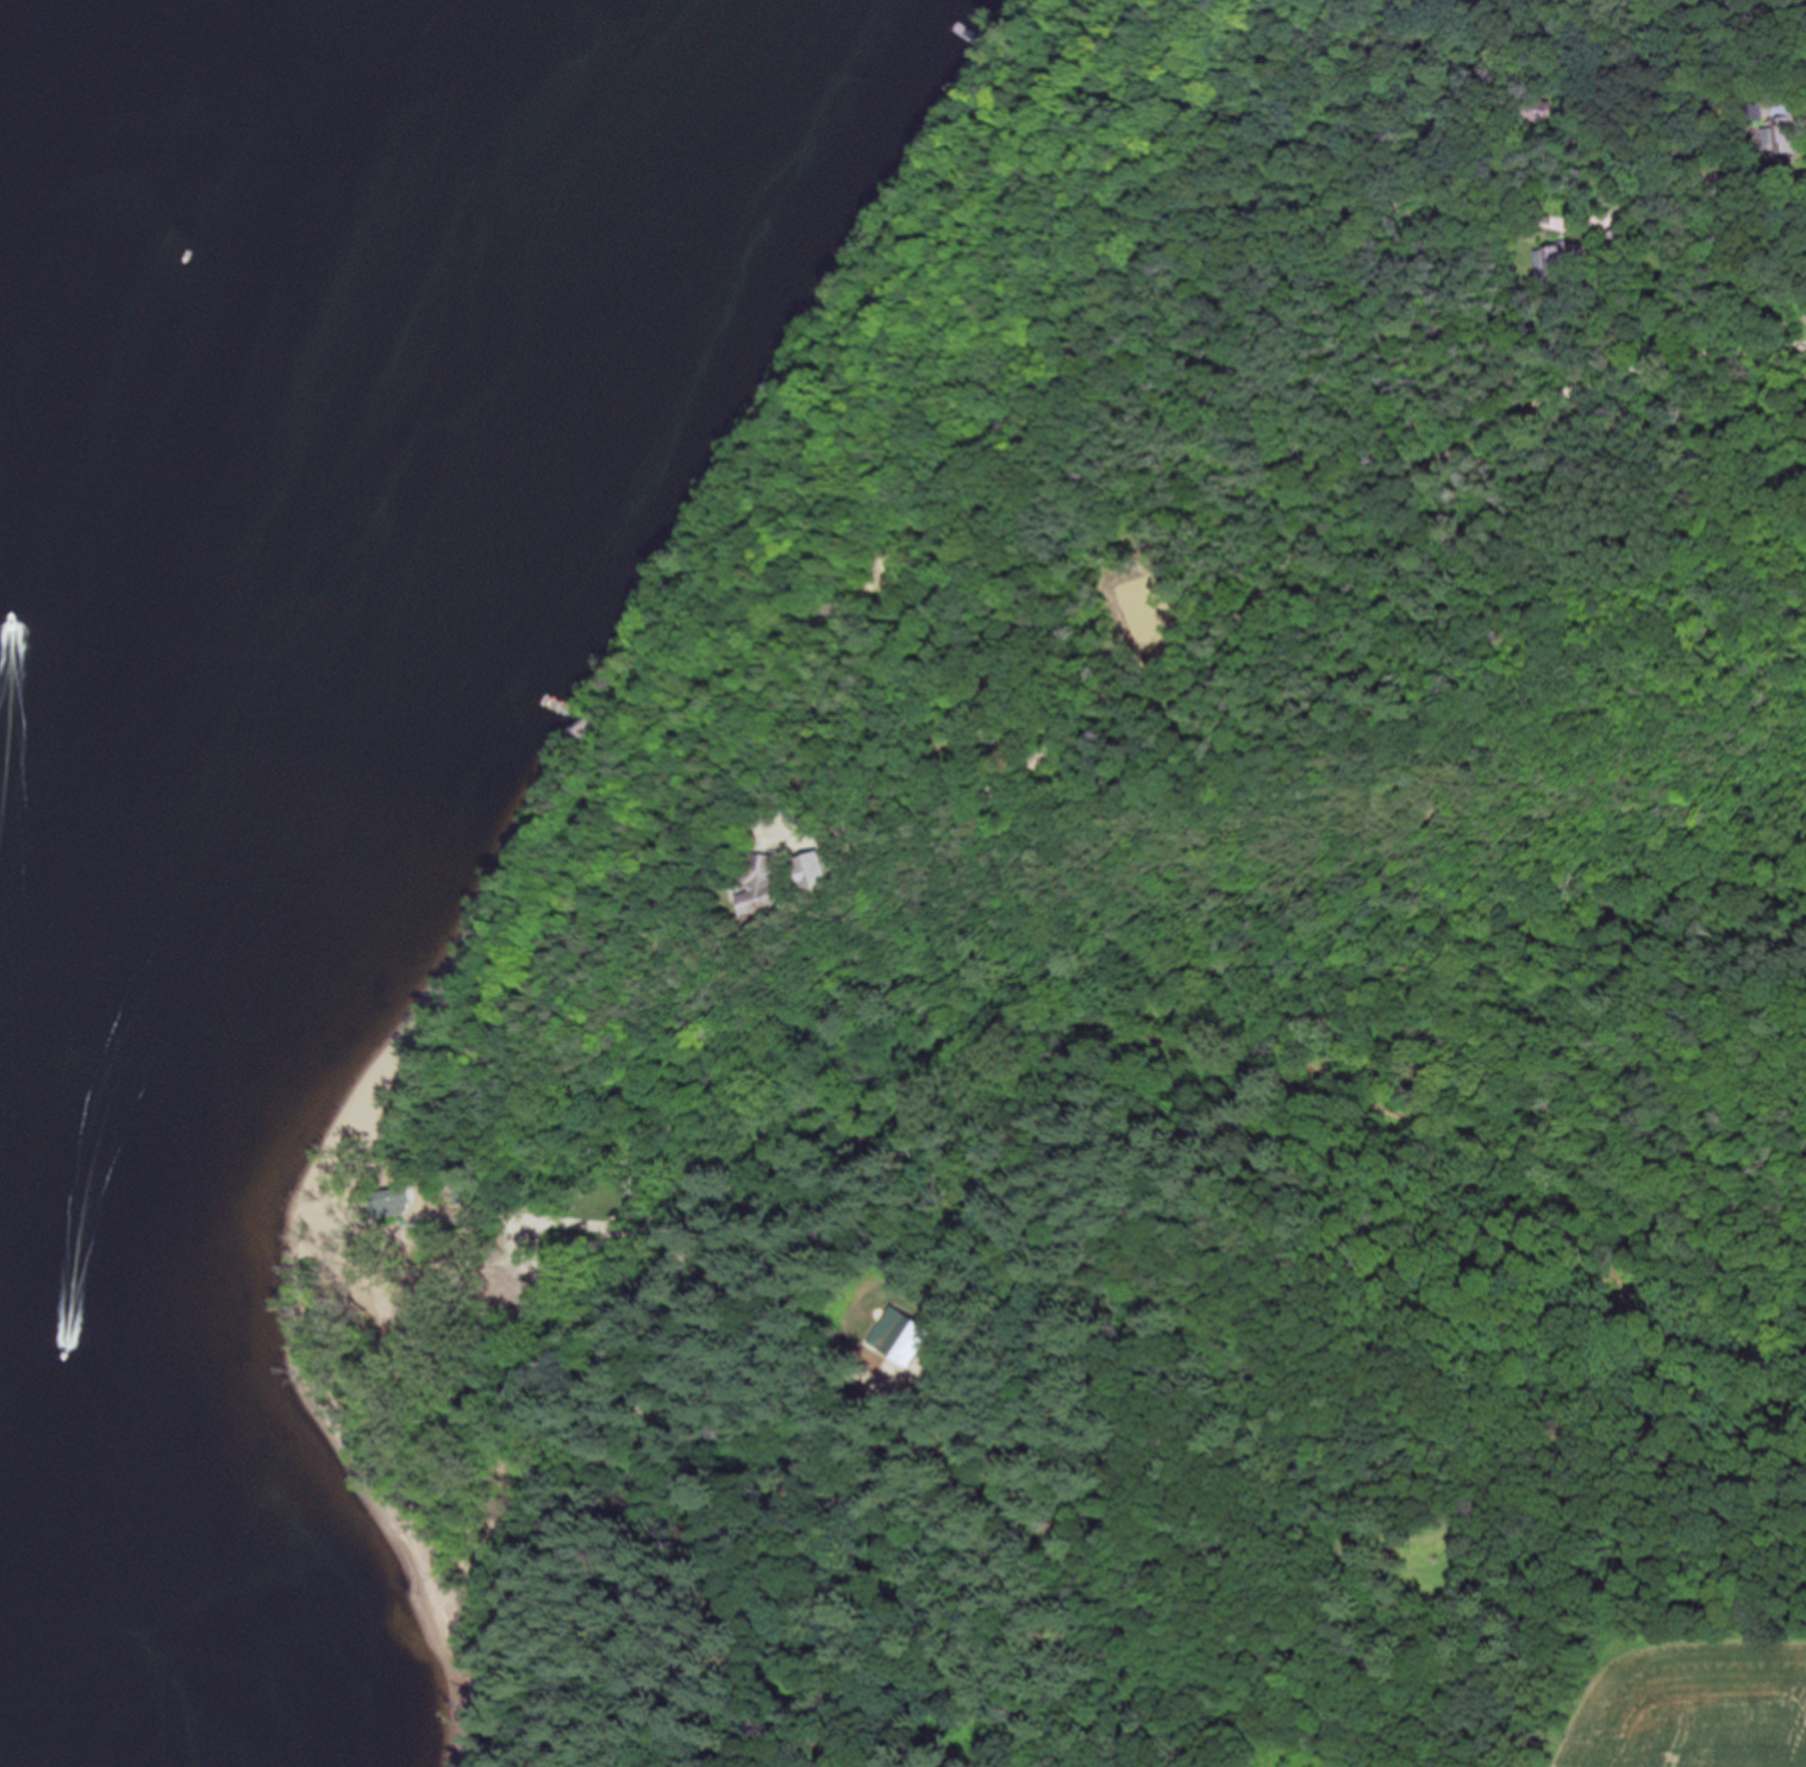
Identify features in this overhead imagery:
building: (1537, 113)
river: (48, 119)
road: (1750, 182)
building: (1616, 242)
building: (1568, 252)
building: (761, 882)
crop: (1688, 1693)

